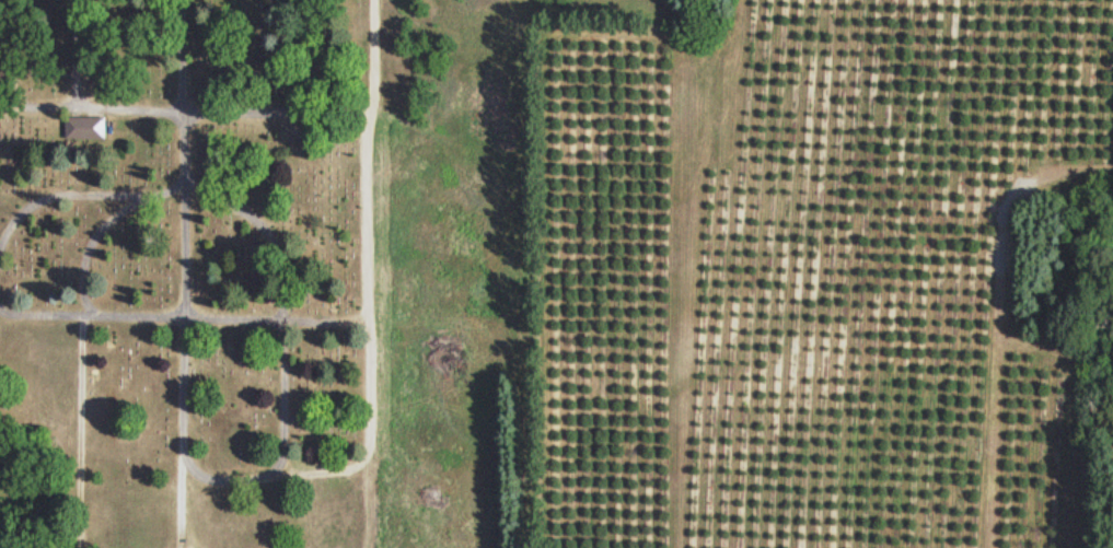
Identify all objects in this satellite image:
building: (82, 131)
park: (190, 275)

